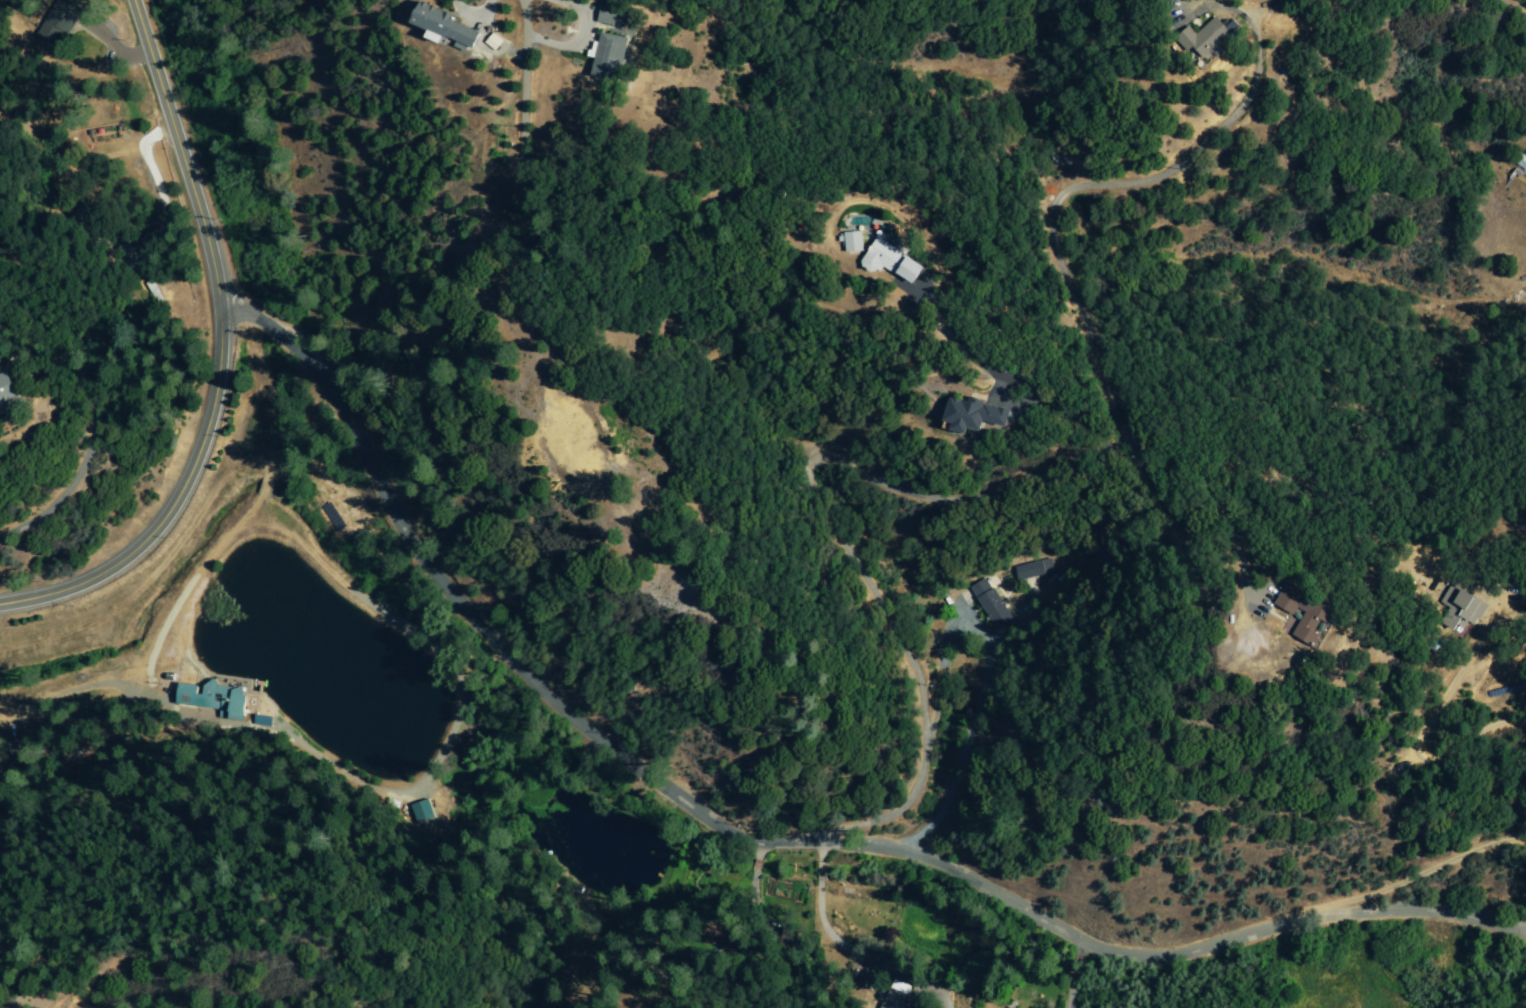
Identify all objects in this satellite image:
road: (1194, 4)
road: (1262, 10)
road: (472, 14)
building: (608, 15)
building: (54, 27)
building: (445, 29)
building: (1206, 37)
road: (580, 38)
road: (113, 45)
building: (608, 57)
road: (524, 63)
road: (143, 145)
building: (852, 242)
building: (893, 260)
road: (515, 291)
road: (218, 354)
building: (7, 389)
building: (974, 415)
road: (992, 496)
road: (69, 498)
building: (1031, 569)
building: (990, 604)
building: (1468, 606)
building: (1319, 612)
road: (987, 677)
building: (216, 699)
building: (423, 812)
road: (768, 844)
road: (755, 856)
road: (752, 877)
road: (752, 894)
road: (819, 919)
road: (1069, 980)
building: (890, 999)
road: (919, 1007)

